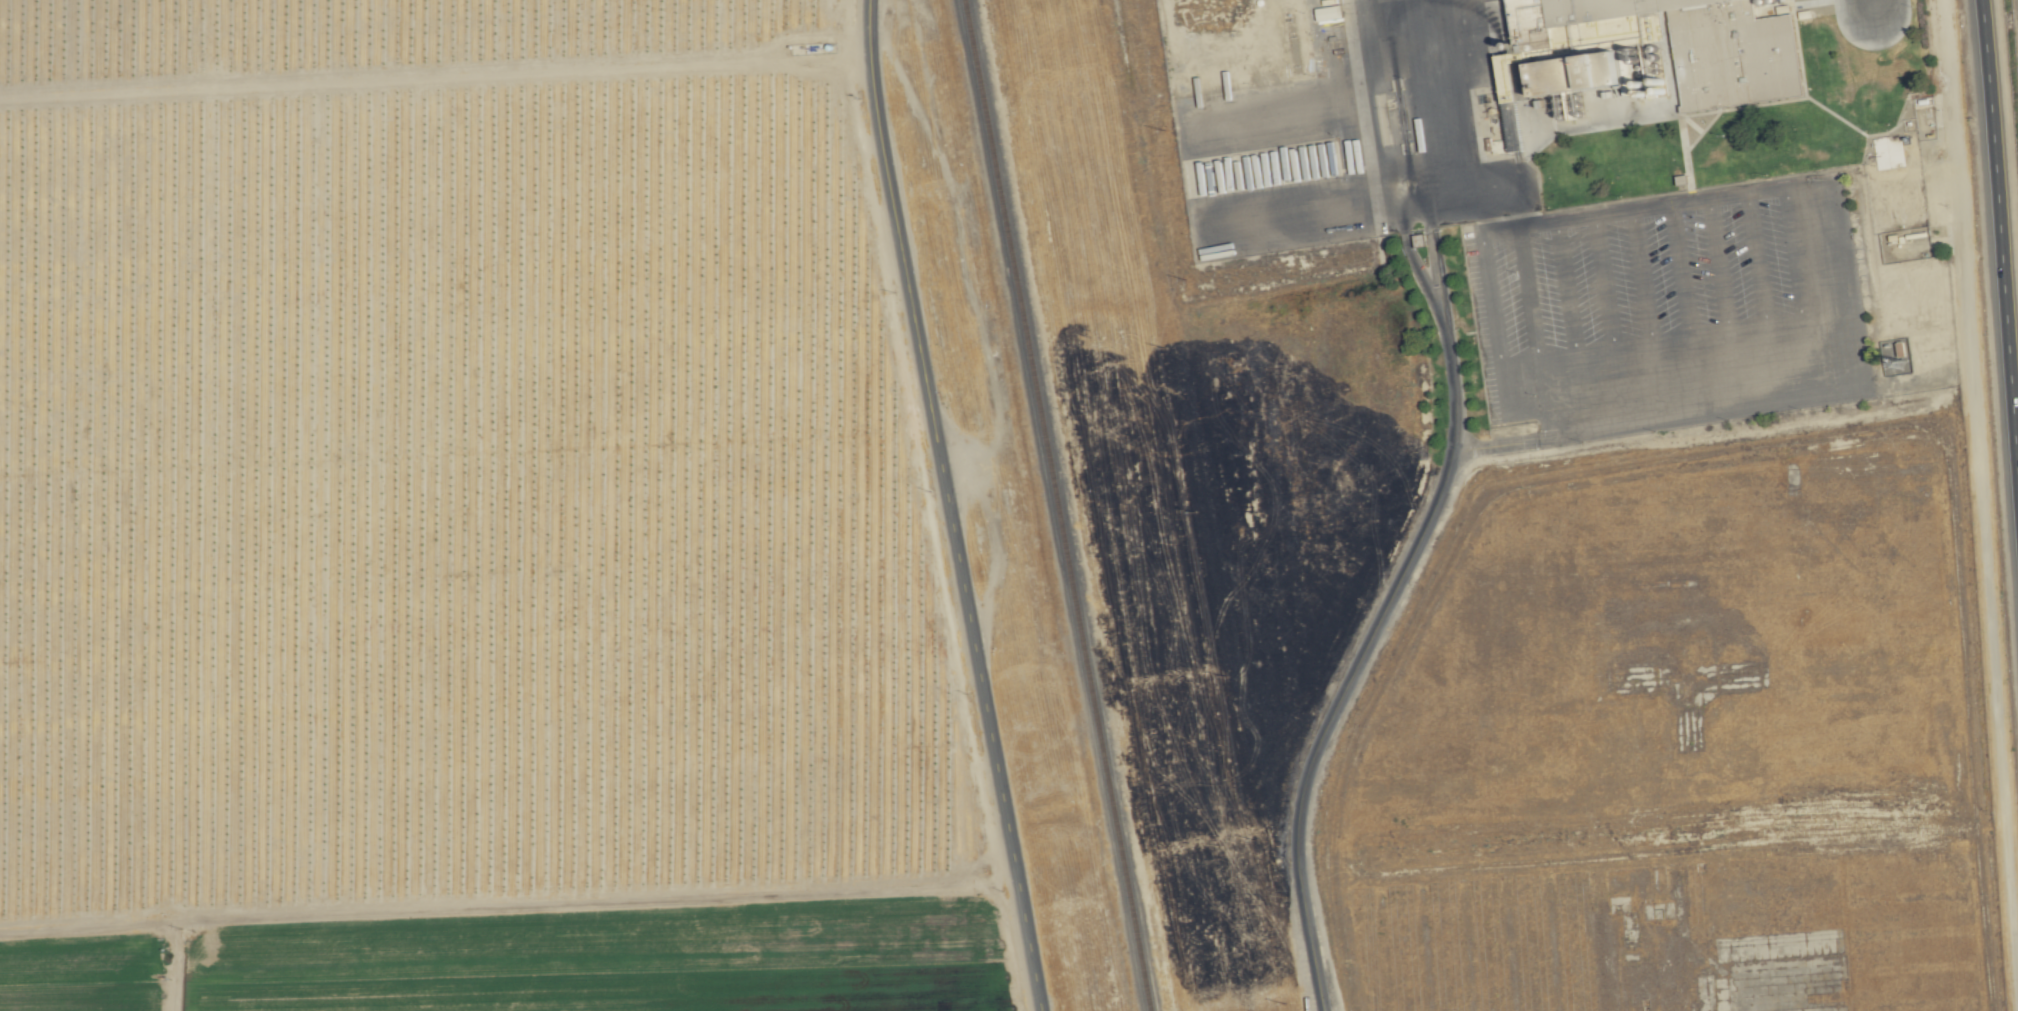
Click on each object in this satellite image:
road: (1870, 7)
building: (1709, 46)
building: (1570, 75)
crop: (2006, 97)
road: (1432, 118)
road: (2000, 240)
road: (1760, 296)
road: (1490, 298)
road: (1723, 302)
road: (1686, 308)
road: (1526, 312)
road: (1646, 314)
road: (1611, 319)
road: (1819, 320)
road: (1570, 325)
road: (1539, 399)
railway: (1055, 505)
road: (946, 506)
road: (1378, 622)
road: (559, 912)

